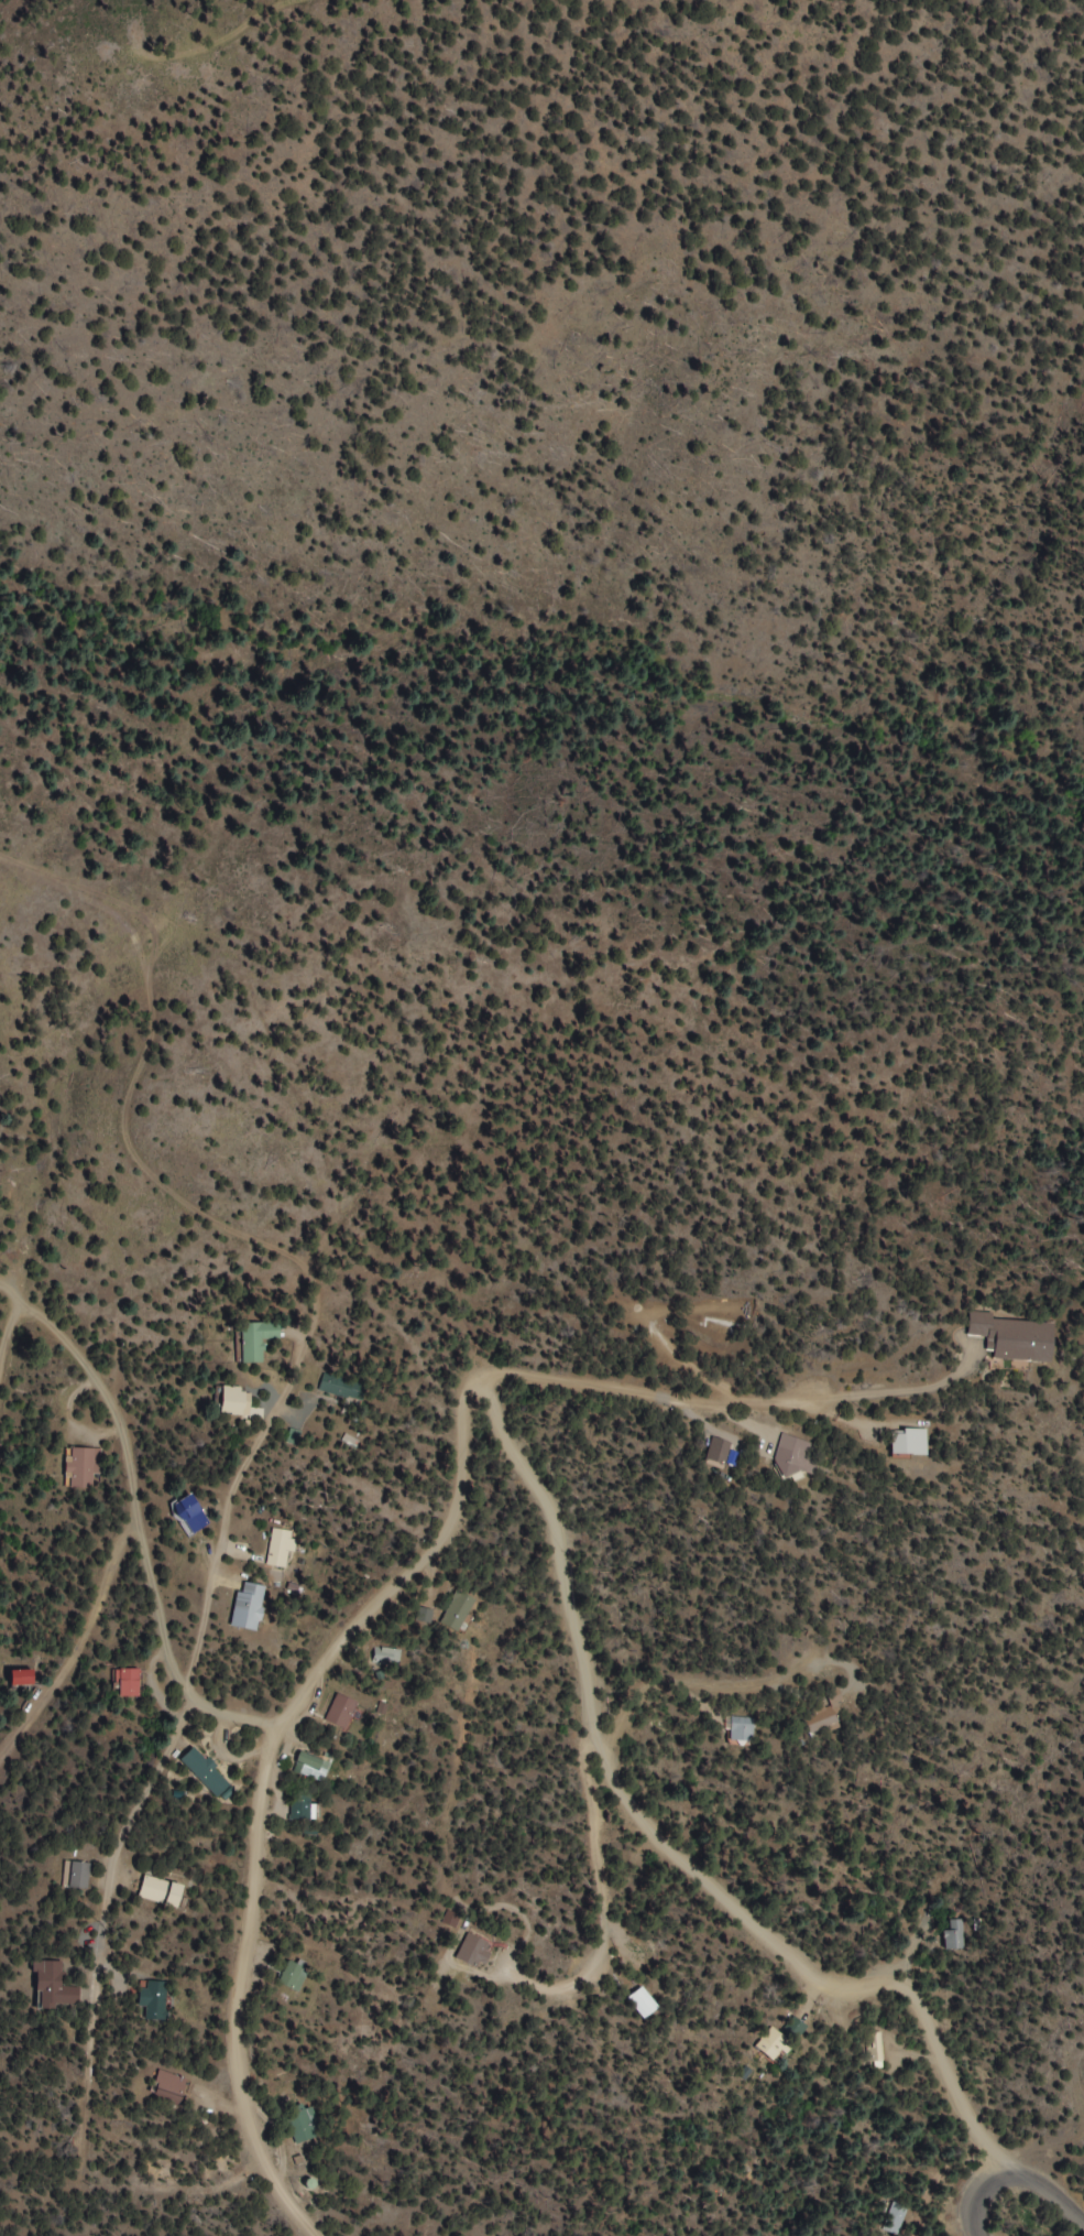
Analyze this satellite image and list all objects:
road: (7, 1336)
building: (1011, 1337)
building: (255, 1339)
building: (337, 1387)
road: (645, 1399)
building: (908, 1443)
building: (716, 1453)
building: (798, 1457)
building: (83, 1468)
road: (231, 1488)
building: (189, 1515)
road: (140, 1533)
building: (280, 1549)
building: (248, 1607)
building: (457, 1611)
road: (77, 1650)
building: (386, 1658)
road: (689, 1682)
building: (127, 1683)
building: (340, 1712)
building: (821, 1723)
road: (583, 1728)
building: (741, 1729)
building: (309, 1762)
building: (205, 1772)
road: (143, 1787)
road: (264, 1788)
building: (303, 1808)
building: (76, 1876)
building: (160, 1893)
road: (606, 1918)
building: (954, 1936)
building: (472, 1952)
building: (291, 1977)
road: (863, 1985)
building: (53, 1987)
building: (640, 2005)
building: (777, 2042)
building: (871, 2051)
building: (770, 2055)
road: (949, 2071)
building: (169, 2088)
road: (1048, 2181)
road: (981, 2197)
building: (893, 2219)

